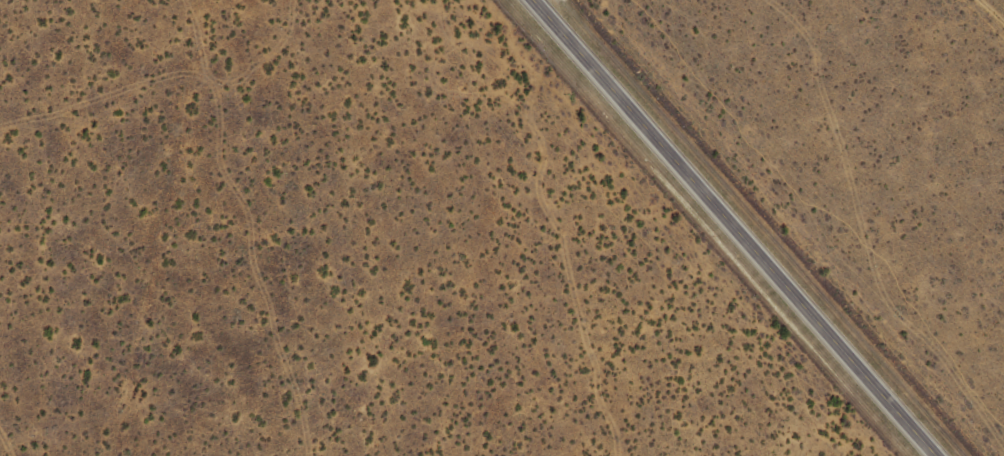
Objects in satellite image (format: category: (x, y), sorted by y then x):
road: (734, 228)

